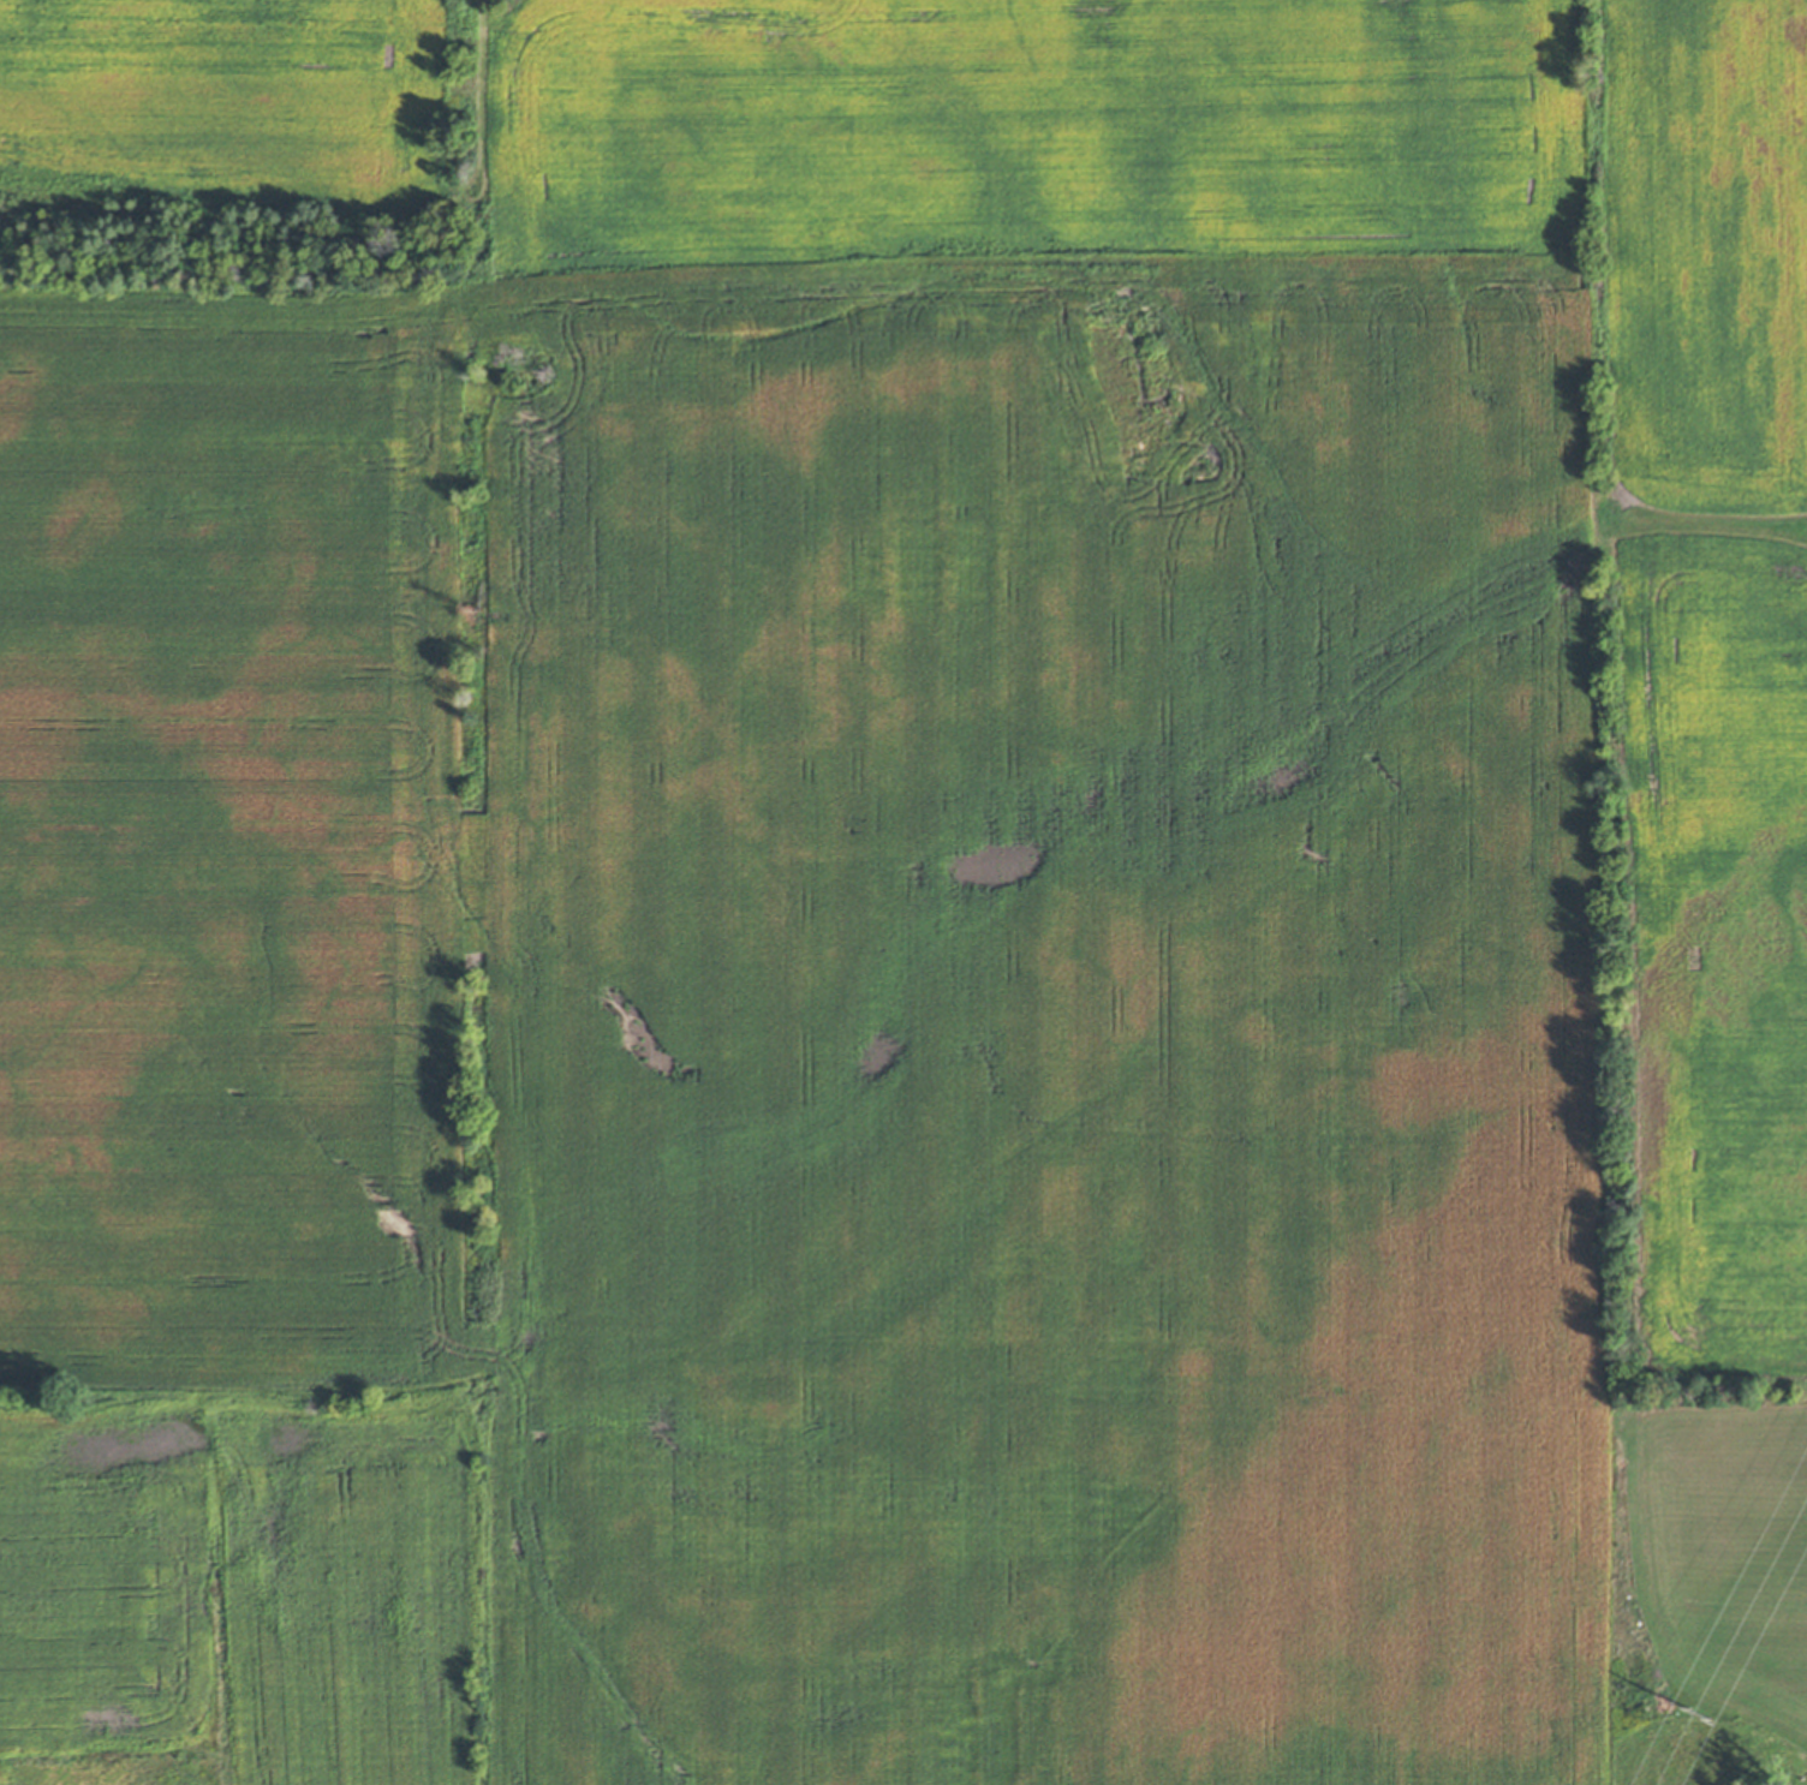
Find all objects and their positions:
power tower: (1701, 1712)

